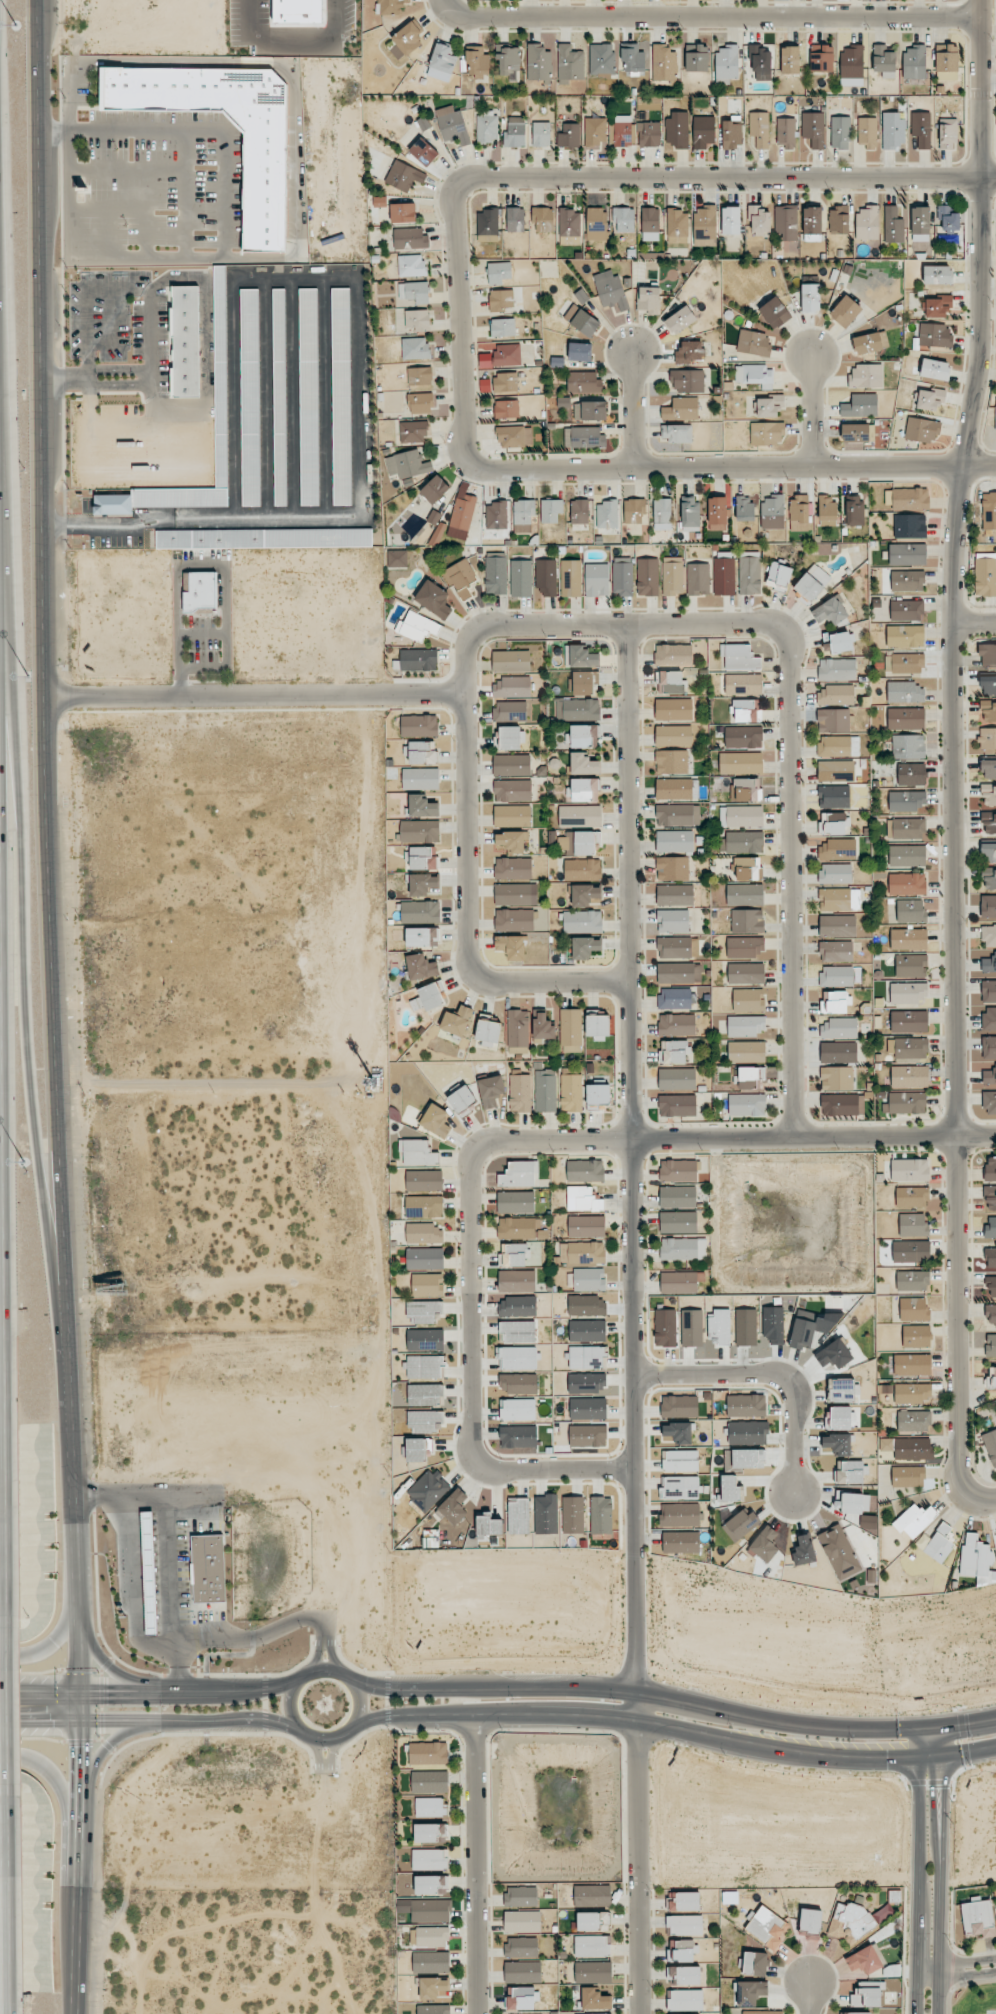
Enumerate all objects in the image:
road: (447, 4)
building: (390, 6)
road: (715, 16)
building: (408, 37)
building: (947, 57)
building: (443, 58)
building: (632, 58)
building: (696, 58)
building: (821, 58)
building: (601, 59)
building: (508, 60)
building: (790, 60)
building: (884, 60)
building: (914, 61)
building: (477, 62)
building: (538, 62)
building: (761, 62)
building: (569, 63)
building: (663, 63)
building: (726, 64)
building: (852, 65)
road: (285, 69)
building: (946, 75)
road: (989, 83)
building: (452, 125)
building: (487, 126)
building: (760, 129)
building: (814, 129)
building: (921, 129)
road: (198, 130)
building: (677, 130)
building: (893, 130)
building: (624, 131)
building: (515, 132)
building: (594, 132)
building: (703, 132)
building: (786, 132)
building: (840, 132)
building: (868, 132)
building: (731, 133)
building: (948, 133)
building: (541, 134)
building: (649, 134)
building: (569, 136)
building: (423, 152)
road: (129, 170)
building: (404, 176)
road: (726, 176)
building: (264, 181)
road: (187, 195)
road: (110, 211)
building: (403, 212)
road: (148, 215)
building: (515, 219)
building: (543, 219)
building: (623, 219)
building: (650, 219)
building: (839, 219)
building: (948, 219)
building: (759, 220)
building: (920, 220)
building: (731, 221)
building: (786, 222)
building: (867, 222)
building: (596, 223)
building: (488, 225)
building: (569, 225)
building: (705, 225)
building: (893, 225)
building: (677, 226)
road: (109, 235)
building: (410, 238)
building: (411, 265)
building: (499, 272)
road: (354, 274)
building: (937, 275)
building: (610, 290)
building: (415, 292)
building: (810, 297)
building: (649, 299)
building: (501, 300)
road: (87, 301)
building: (938, 306)
building: (845, 311)
building: (775, 312)
building: (418, 320)
building: (581, 320)
building: (680, 320)
building: (503, 327)
road: (122, 333)
building: (935, 335)
building: (185, 341)
building: (870, 342)
building: (753, 343)
building: (415, 348)
building: (580, 351)
building: (690, 351)
building: (502, 356)
building: (935, 369)
road: (151, 375)
building: (754, 375)
building: (220, 376)
building: (420, 376)
building: (865, 376)
road: (65, 378)
building: (687, 380)
building: (505, 382)
building: (583, 382)
road: (324, 394)
road: (266, 395)
road: (293, 395)
building: (341, 396)
building: (250, 397)
building: (279, 397)
building: (309, 397)
building: (930, 399)
building: (421, 403)
road: (207, 405)
building: (769, 405)
building: (860, 406)
building: (506, 409)
building: (681, 409)
road: (632, 411)
road: (812, 415)
building: (922, 430)
building: (413, 432)
building: (858, 432)
building: (676, 433)
building: (767, 433)
building: (514, 436)
building: (584, 437)
building: (407, 464)
road: (594, 469)
building: (435, 489)
building: (910, 498)
building: (160, 499)
building: (744, 508)
building: (551, 510)
building: (799, 510)
building: (827, 510)
building: (854, 510)
building: (580, 511)
building: (635, 511)
building: (989, 511)
building: (773, 512)
building: (607, 514)
building: (662, 514)
building: (690, 514)
building: (717, 514)
building: (461, 515)
building: (496, 515)
building: (523, 516)
road: (204, 518)
road: (109, 524)
building: (910, 526)
building: (264, 538)
building: (907, 554)
building: (397, 558)
building: (496, 573)
building: (749, 573)
building: (460, 574)
building: (622, 576)
building: (672, 576)
building: (724, 576)
building: (778, 576)
building: (647, 577)
building: (985, 577)
building: (521, 578)
building: (546, 578)
building: (571, 578)
building: (698, 579)
building: (597, 580)
building: (907, 581)
building: (812, 582)
building: (200, 591)
building: (434, 599)
building: (906, 610)
building: (829, 611)
building: (417, 627)
road: (978, 627)
building: (905, 636)
building: (838, 642)
building: (673, 654)
building: (987, 655)
building: (580, 657)
building: (739, 657)
building: (418, 659)
building: (511, 661)
building: (904, 663)
building: (837, 669)
building: (584, 682)
building: (671, 682)
building: (743, 684)
building: (987, 684)
building: (512, 687)
building: (904, 692)
building: (836, 695)
road: (255, 697)
building: (577, 708)
building: (674, 709)
building: (510, 710)
building: (744, 710)
building: (987, 711)
road: (45, 714)
building: (906, 718)
building: (833, 720)
road: (792, 723)
building: (419, 725)
building: (673, 735)
building: (743, 737)
building: (509, 738)
building: (987, 738)
building: (839, 746)
building: (908, 746)
building: (422, 752)
road: (960, 760)
building: (672, 761)
building: (740, 763)
building: (583, 764)
building: (512, 765)
building: (989, 769)
building: (836, 770)
building: (911, 774)
building: (420, 778)
building: (585, 789)
building: (677, 789)
building: (745, 789)
building: (513, 790)
building: (989, 794)
building: (833, 797)
building: (907, 801)
building: (421, 806)
building: (512, 815)
building: (678, 815)
building: (580, 816)
building: (741, 816)
building: (832, 823)
building: (989, 823)
building: (908, 828)
building: (420, 831)
building: (512, 841)
building: (675, 841)
building: (579, 842)
building: (744, 842)
building: (837, 849)
building: (989, 851)
building: (907, 855)
building: (513, 868)
building: (672, 868)
building: (583, 869)
building: (835, 873)
building: (989, 878)
road: (466, 881)
building: (907, 883)
building: (424, 884)
building: (515, 894)
building: (745, 894)
building: (586, 895)
building: (675, 895)
building: (840, 899)
building: (988, 906)
building: (420, 910)
building: (910, 911)
building: (514, 920)
building: (582, 921)
building: (673, 921)
building: (747, 921)
building: (837, 925)
building: (989, 935)
building: (422, 937)
building: (908, 939)
building: (511, 947)
building: (585, 947)
building: (677, 947)
building: (745, 947)
building: (836, 951)
road: (627, 956)
building: (989, 964)
building: (911, 965)
building: (421, 966)
building: (676, 973)
building: (746, 973)
building: (836, 976)
building: (988, 991)
road: (27, 993)
building: (907, 993)
building: (428, 997)
building: (675, 998)
building: (749, 1000)
building: (835, 1001)
building: (988, 1019)
building: (457, 1021)
building: (909, 1021)
building: (676, 1024)
building: (542, 1026)
building: (598, 1026)
building: (745, 1026)
building: (570, 1027)
building: (518, 1028)
building: (838, 1028)
building: (488, 1031)
building: (989, 1047)
building: (908, 1048)
building: (746, 1051)
building: (673, 1052)
building: (838, 1052)
building: (909, 1076)
building: (989, 1076)
building: (677, 1078)
building: (751, 1078)
building: (837, 1078)
building: (545, 1090)
building: (491, 1091)
building: (571, 1091)
building: (520, 1093)
building: (598, 1094)
building: (462, 1099)
building: (990, 1102)
building: (905, 1103)
building: (677, 1105)
building: (746, 1105)
building: (843, 1105)
building: (436, 1121)
road: (660, 1139)
building: (418, 1152)
building: (990, 1168)
building: (585, 1170)
building: (678, 1170)
building: (910, 1170)
building: (519, 1174)
building: (424, 1180)
building: (677, 1196)
building: (911, 1197)
building: (990, 1198)
building: (583, 1199)
building: (516, 1202)
building: (424, 1206)
building: (678, 1222)
building: (913, 1225)
building: (586, 1226)
building: (520, 1228)
building: (991, 1228)
building: (424, 1233)
building: (683, 1249)
building: (911, 1251)
building: (581, 1253)
building: (513, 1255)
building: (424, 1258)
building: (990, 1258)
building: (589, 1279)
building: (912, 1280)
building: (517, 1281)
building: (680, 1282)
building: (427, 1284)
building: (992, 1286)
building: (517, 1306)
building: (914, 1309)
building: (425, 1311)
building: (991, 1313)
road: (3, 1318)
building: (773, 1324)
building: (720, 1326)
building: (665, 1327)
building: (746, 1327)
building: (691, 1328)
building: (518, 1331)
building: (587, 1331)
building: (802, 1334)
building: (916, 1336)
building: (425, 1339)
building: (990, 1345)
building: (586, 1357)
building: (518, 1358)
building: (912, 1364)
building: (426, 1367)
road: (769, 1371)
building: (991, 1377)
road: (632, 1379)
building: (519, 1383)
building: (587, 1383)
building: (841, 1390)
building: (912, 1393)
building: (425, 1394)
building: (746, 1405)
building: (680, 1406)
building: (518, 1409)
building: (588, 1409)
building: (838, 1418)
building: (426, 1420)
building: (914, 1421)
building: (747, 1432)
building: (677, 1433)
building: (588, 1435)
building: (518, 1436)
building: (837, 1444)
building: (990, 1445)
building: (908, 1448)
building: (417, 1449)
building: (749, 1458)
building: (680, 1461)
road: (582, 1468)
building: (851, 1472)
building: (908, 1476)
building: (680, 1488)
building: (429, 1489)
building: (731, 1489)
building: (852, 1503)
building: (455, 1507)
building: (546, 1514)
building: (679, 1514)
building: (572, 1515)
building: (601, 1515)
building: (518, 1516)
building: (915, 1520)
building: (488, 1524)
building: (741, 1524)
building: (995, 1532)
building: (681, 1542)
building: (939, 1543)
building: (764, 1544)
building: (803, 1549)
building: (839, 1552)
road: (167, 1553)
building: (977, 1559)
building: (208, 1568)
building: (149, 1572)
road: (133, 1588)
road: (274, 1627)
road: (57, 1640)
road: (326, 1667)
road: (106, 1668)
traffic signals: (109, 1694)
road: (149, 1694)
road: (676, 1701)
road: (290, 1707)
road: (7, 1708)
road: (360, 1709)
road: (152, 1719)
traffic signals: (43, 1720)
road: (82, 1721)
road: (670, 1728)
road: (115, 1738)
road: (324, 1738)
traffic signals: (82, 1749)
building: (428, 1753)
road: (51, 1778)
building: (430, 1782)
building: (430, 1807)
building: (430, 1833)
road: (639, 1853)
building: (430, 1859)
road: (475, 1863)
road: (939, 1871)
road: (919, 1872)
building: (431, 1884)
building: (592, 1895)
building: (521, 1896)
building: (685, 1902)
road: (10, 1905)
building: (426, 1910)
building: (978, 1918)
building: (522, 1921)
building: (593, 1921)
building: (856, 1921)
building: (810, 1922)
building: (684, 1925)
building: (767, 1927)
building: (432, 1936)
building: (592, 1946)
building: (521, 1947)
building: (682, 1951)
building: (431, 1961)
building: (864, 1961)
road: (957, 1963)
building: (755, 1964)
building: (593, 1971)
building: (522, 1972)
building: (684, 1975)
road: (957, 1976)
road: (951, 1979)
road: (961, 1985)
building: (433, 1988)
building: (750, 1992)
building: (867, 1994)
road: (811, 1996)
park: (972, 1997)
building: (522, 1998)
building: (595, 1999)
building: (685, 2000)
building: (433, 2009)
building: (762, 2012)
park: (991, 2012)
building: (603, 2013)
building: (856, 2013)

